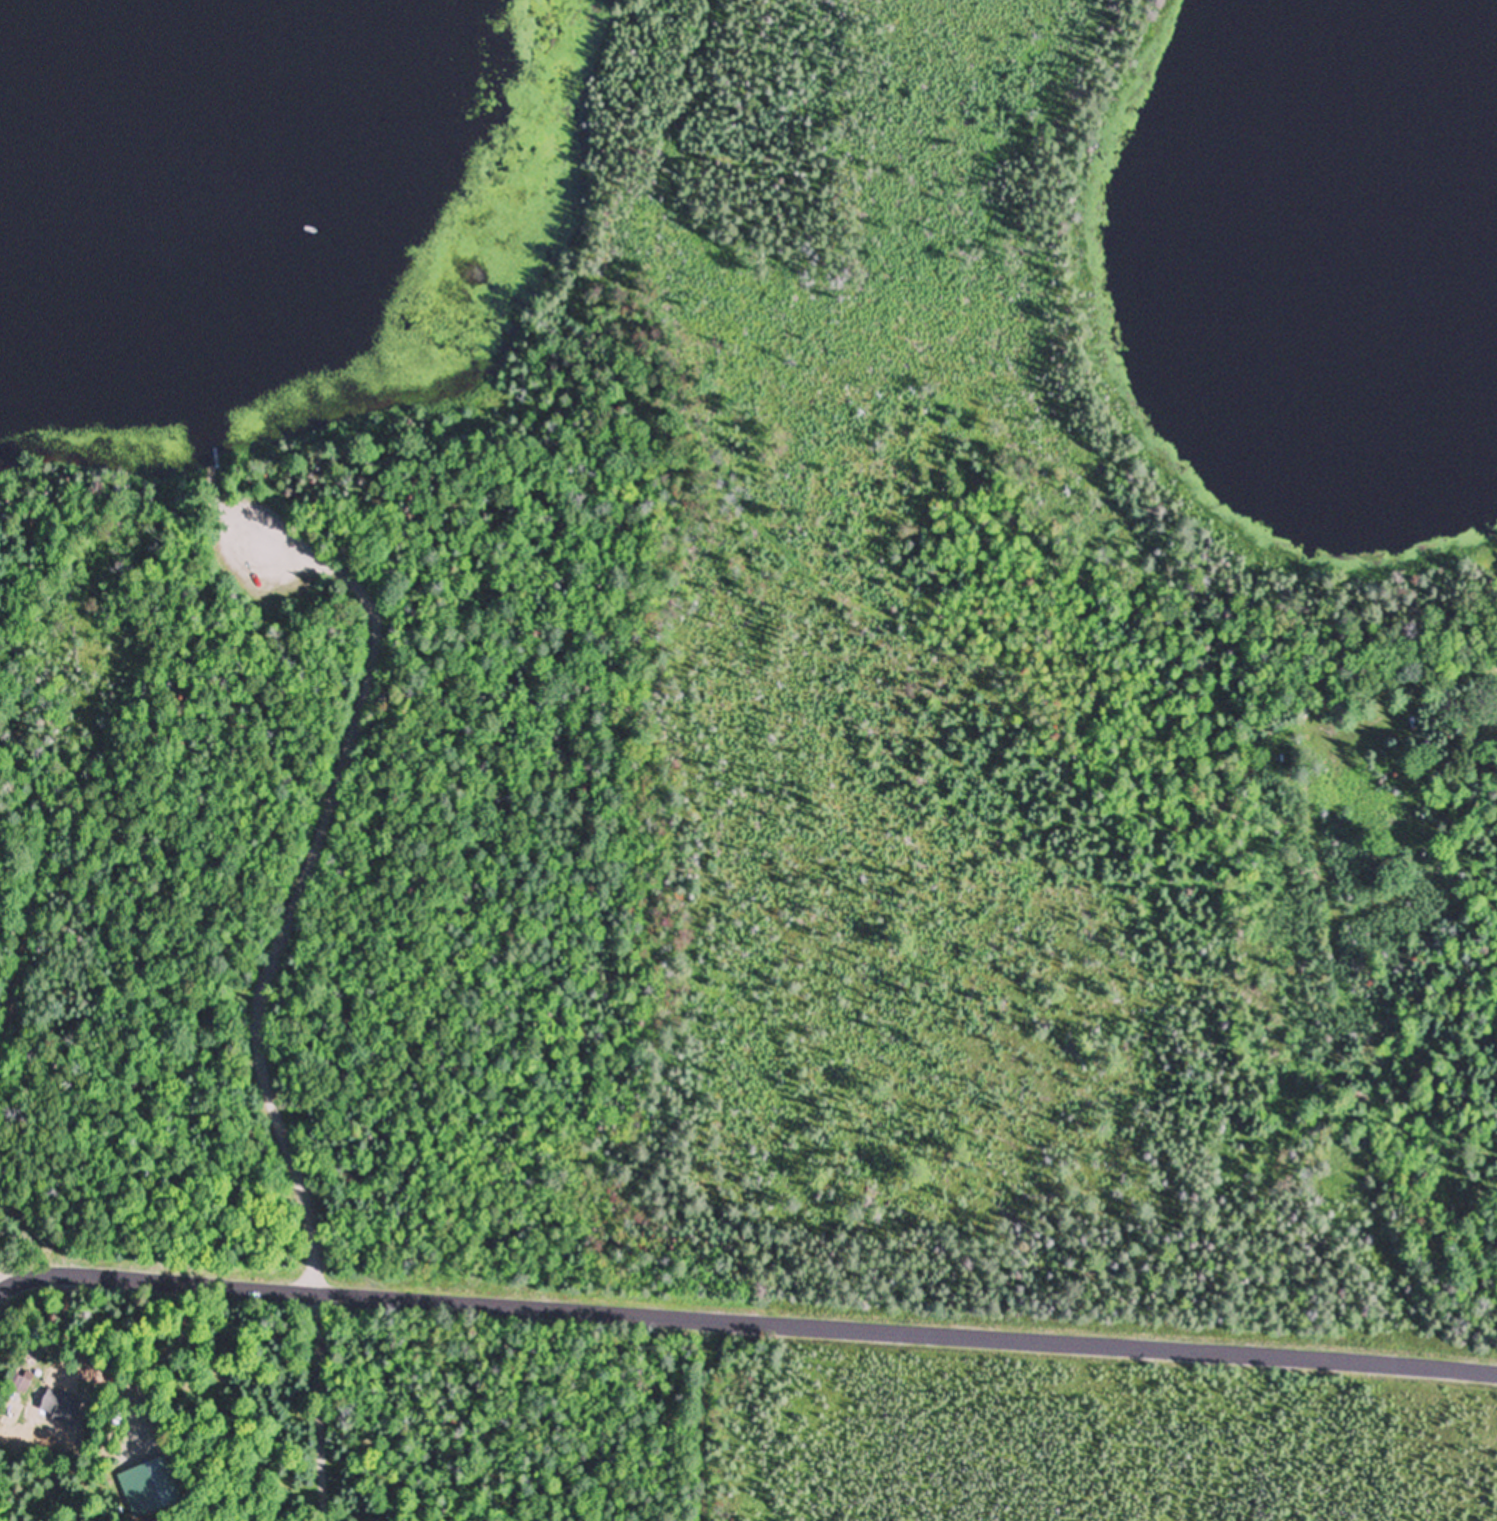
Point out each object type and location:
road: (304, 888)
road: (747, 1323)
building: (16, 1382)
building: (39, 1397)

